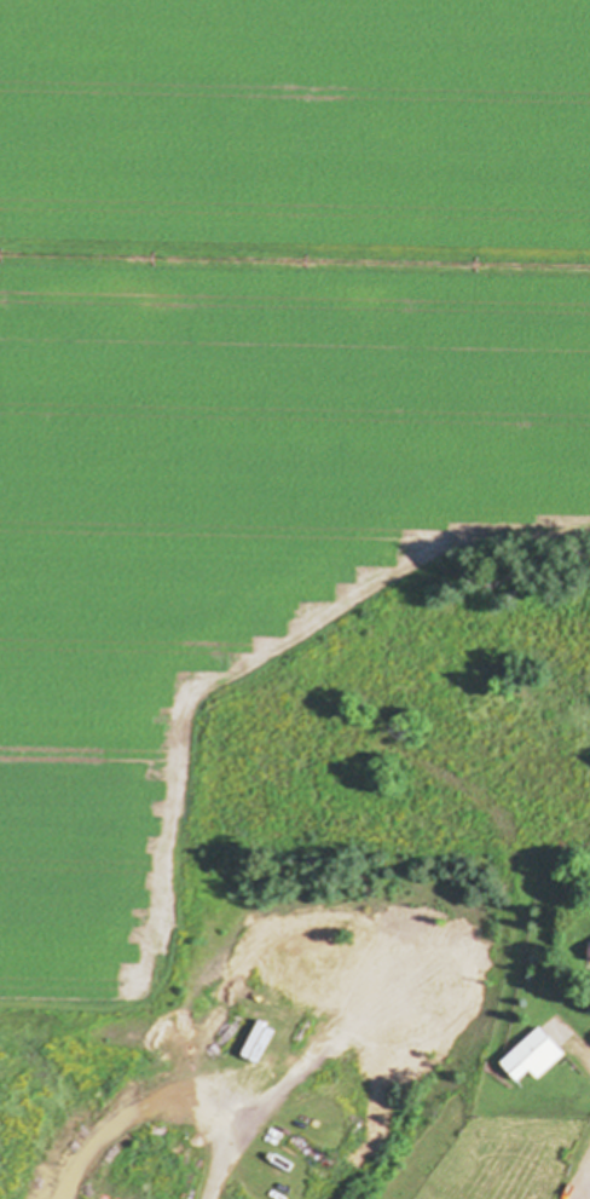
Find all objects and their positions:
building: (536, 1056)
road: (579, 1182)

